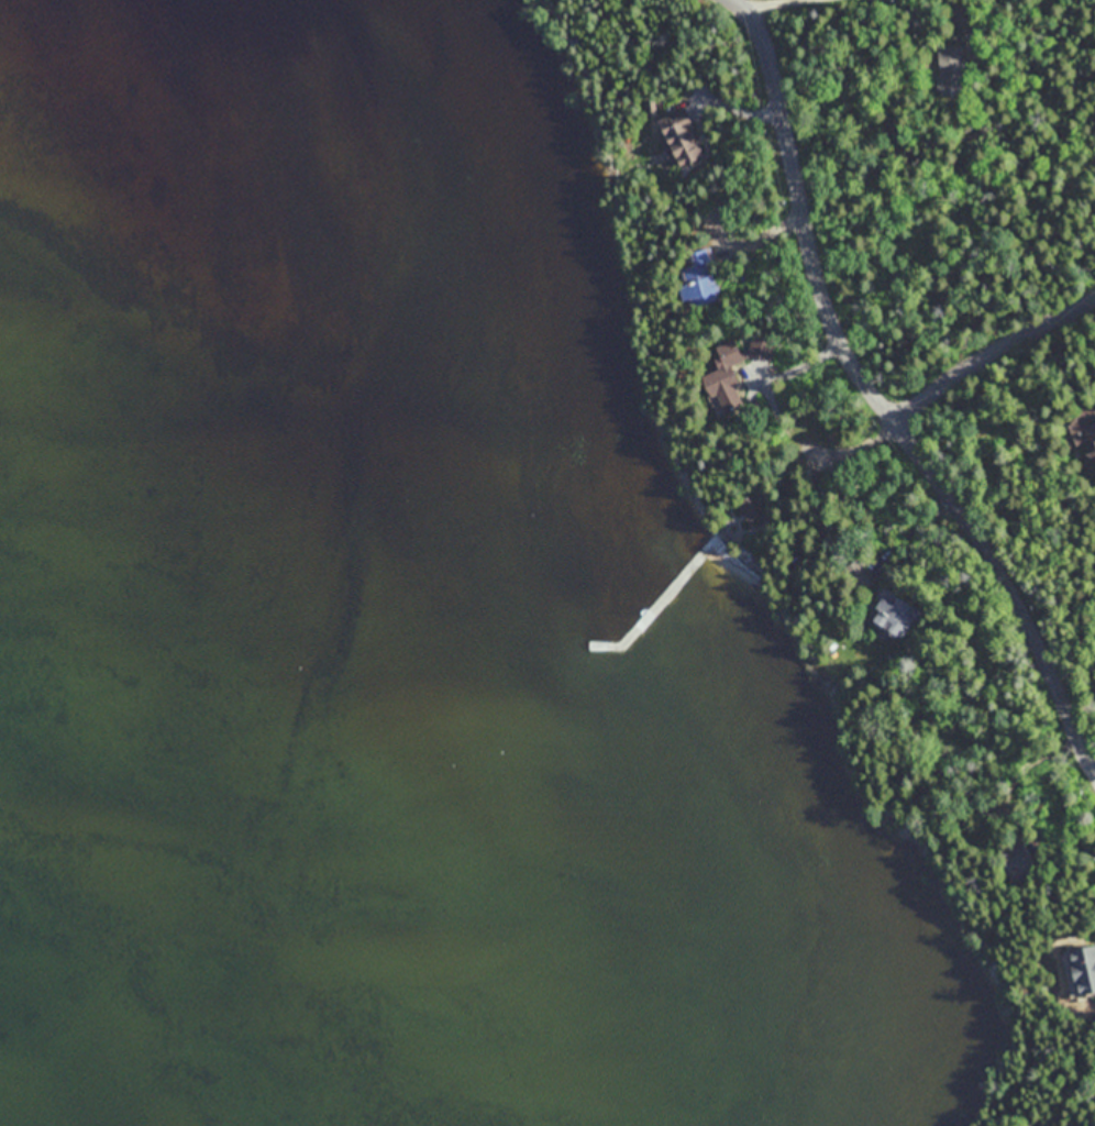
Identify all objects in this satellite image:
building: (950, 68)
building: (676, 137)
river: (450, 179)
building: (695, 280)
road: (992, 352)
building: (720, 379)
road: (875, 397)
building: (1083, 431)
building: (752, 503)
building: (861, 575)
building: (891, 615)
building: (1013, 859)
building: (1082, 969)

